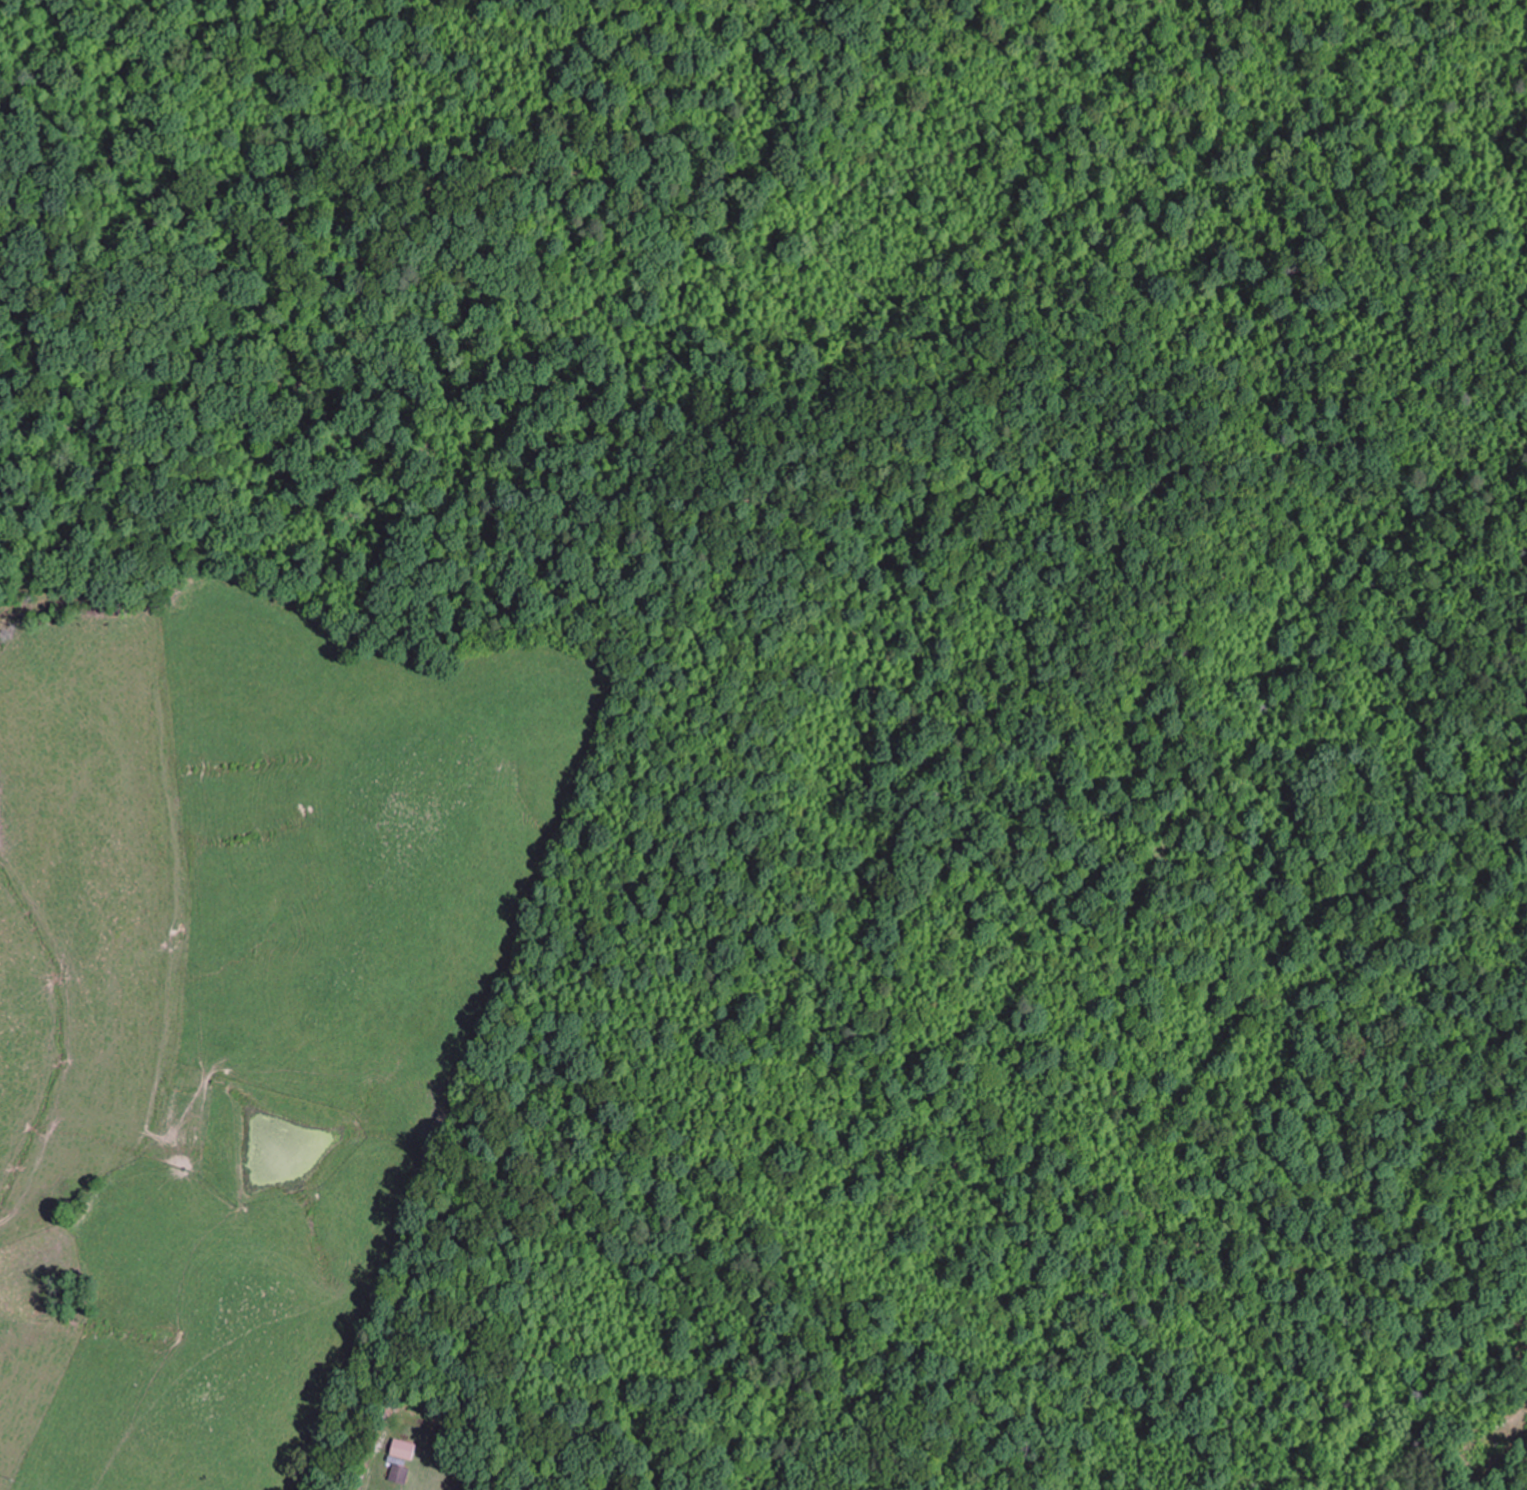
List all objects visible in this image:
building: (401, 1448)
building: (398, 1474)

